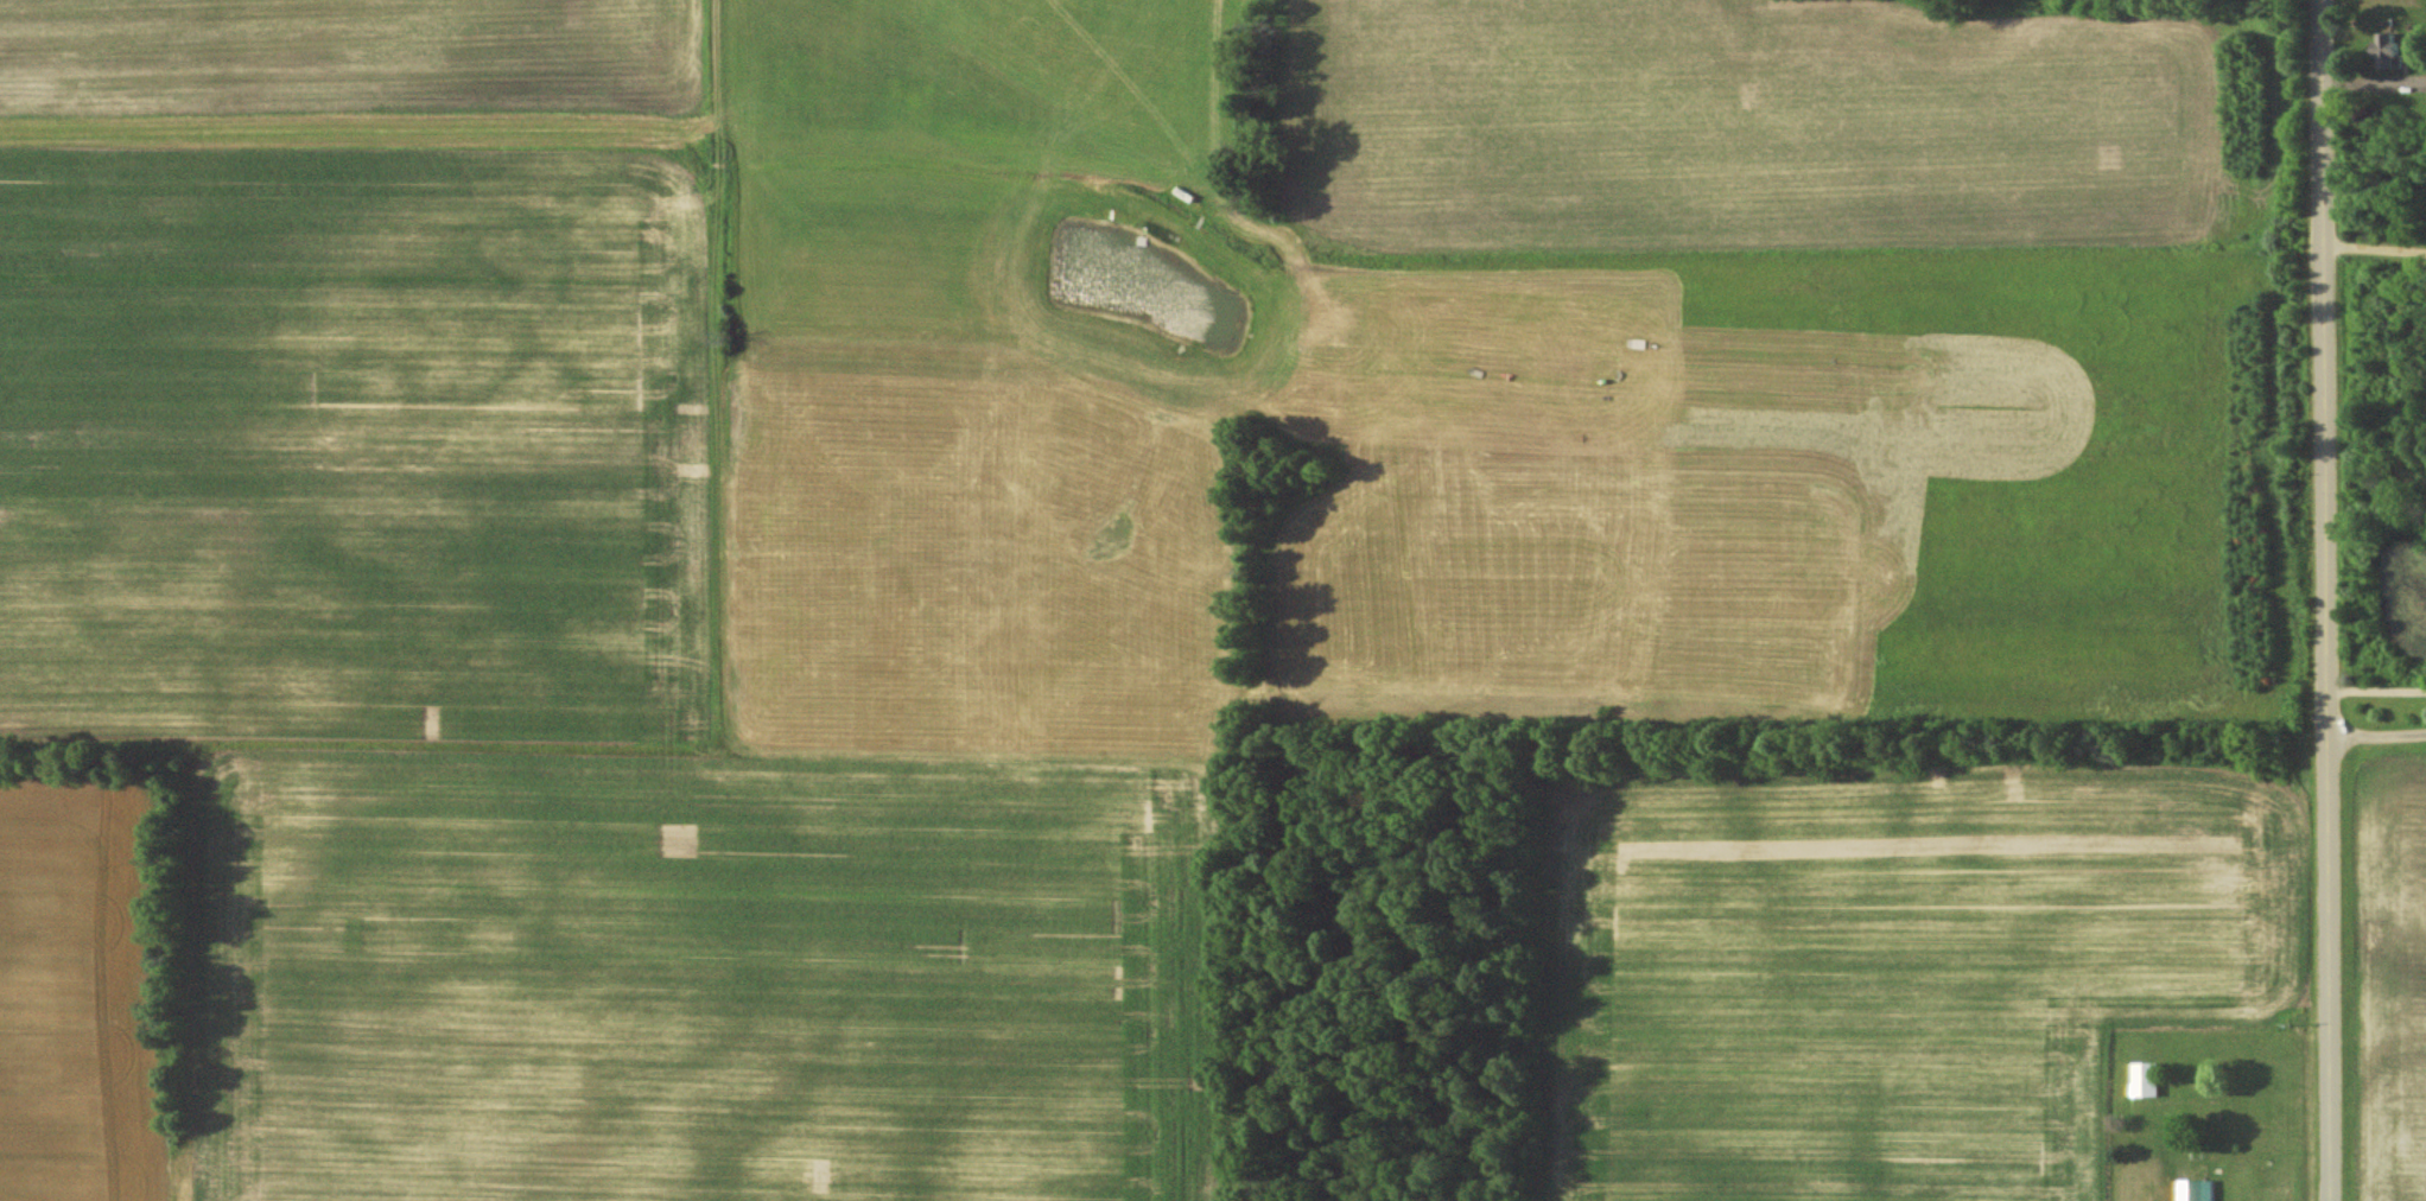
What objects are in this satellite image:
building: (2392, 49)
road: (2370, 85)
road: (2370, 250)
road: (2319, 599)
road: (2373, 694)
road: (2374, 746)
building: (2148, 1079)
building: (2198, 1190)

